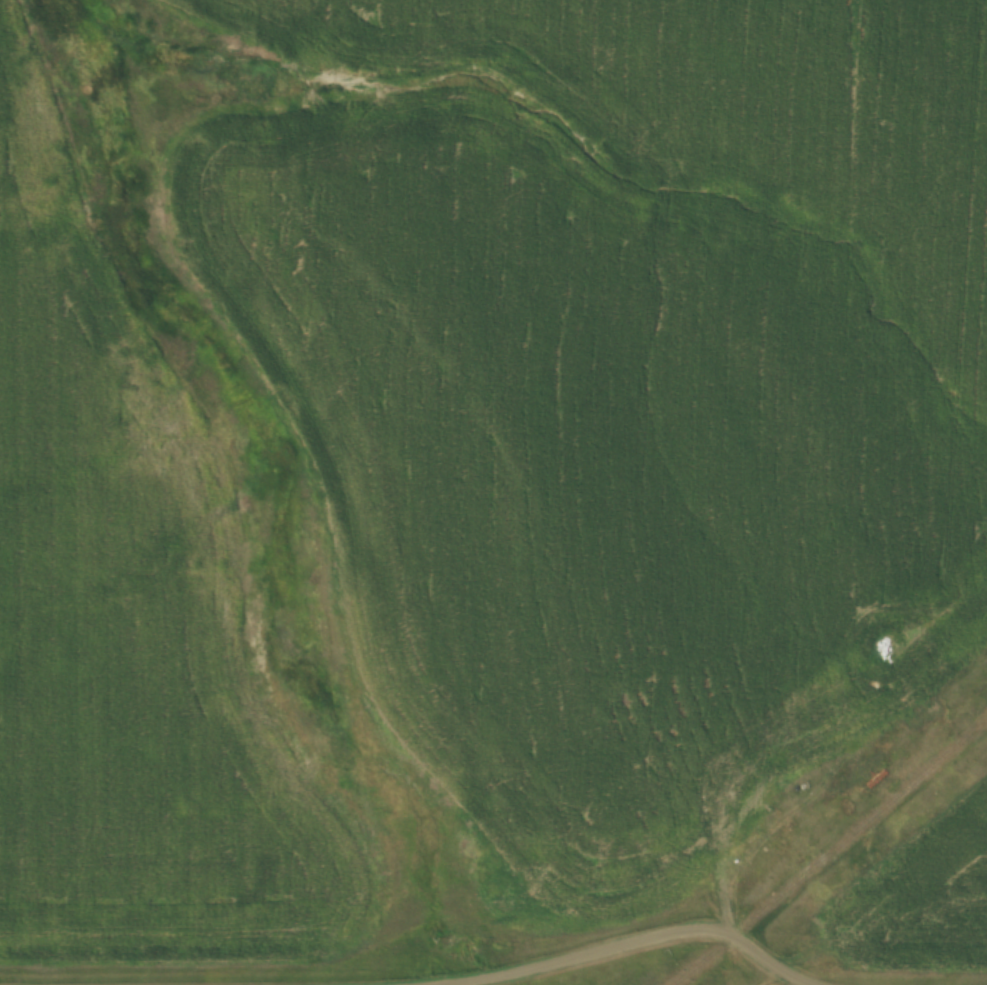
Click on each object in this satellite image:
railway: (828, 857)
road: (633, 944)

